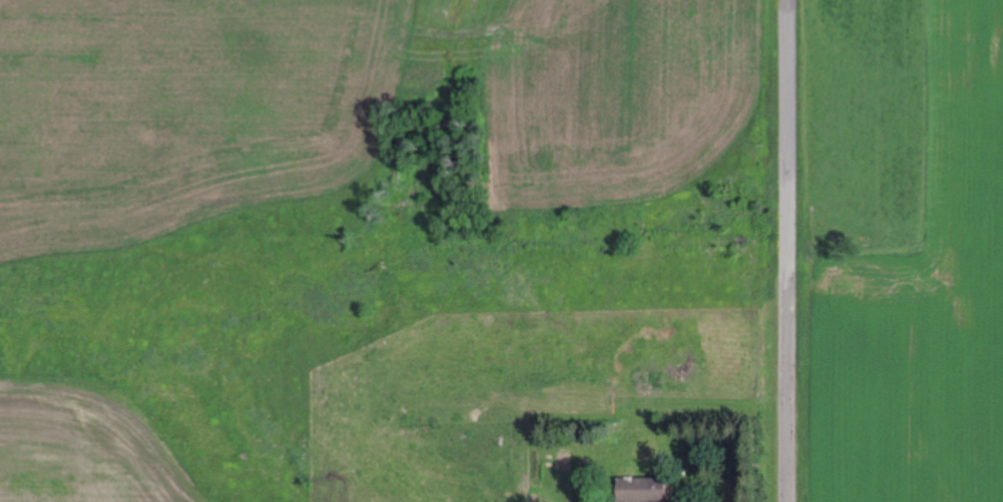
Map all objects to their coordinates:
road: (792, 250)
building: (642, 490)

